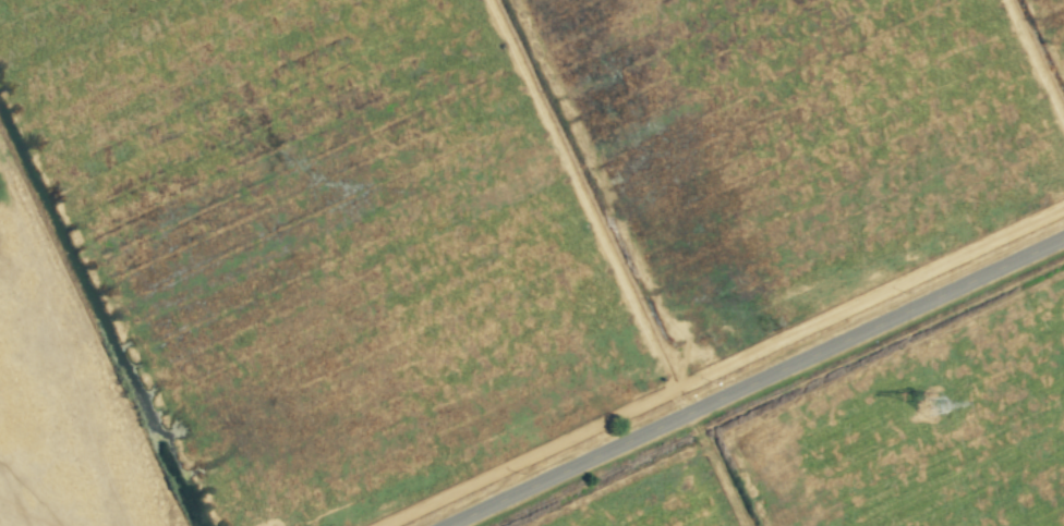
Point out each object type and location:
road: (755, 381)
power tower: (932, 407)

